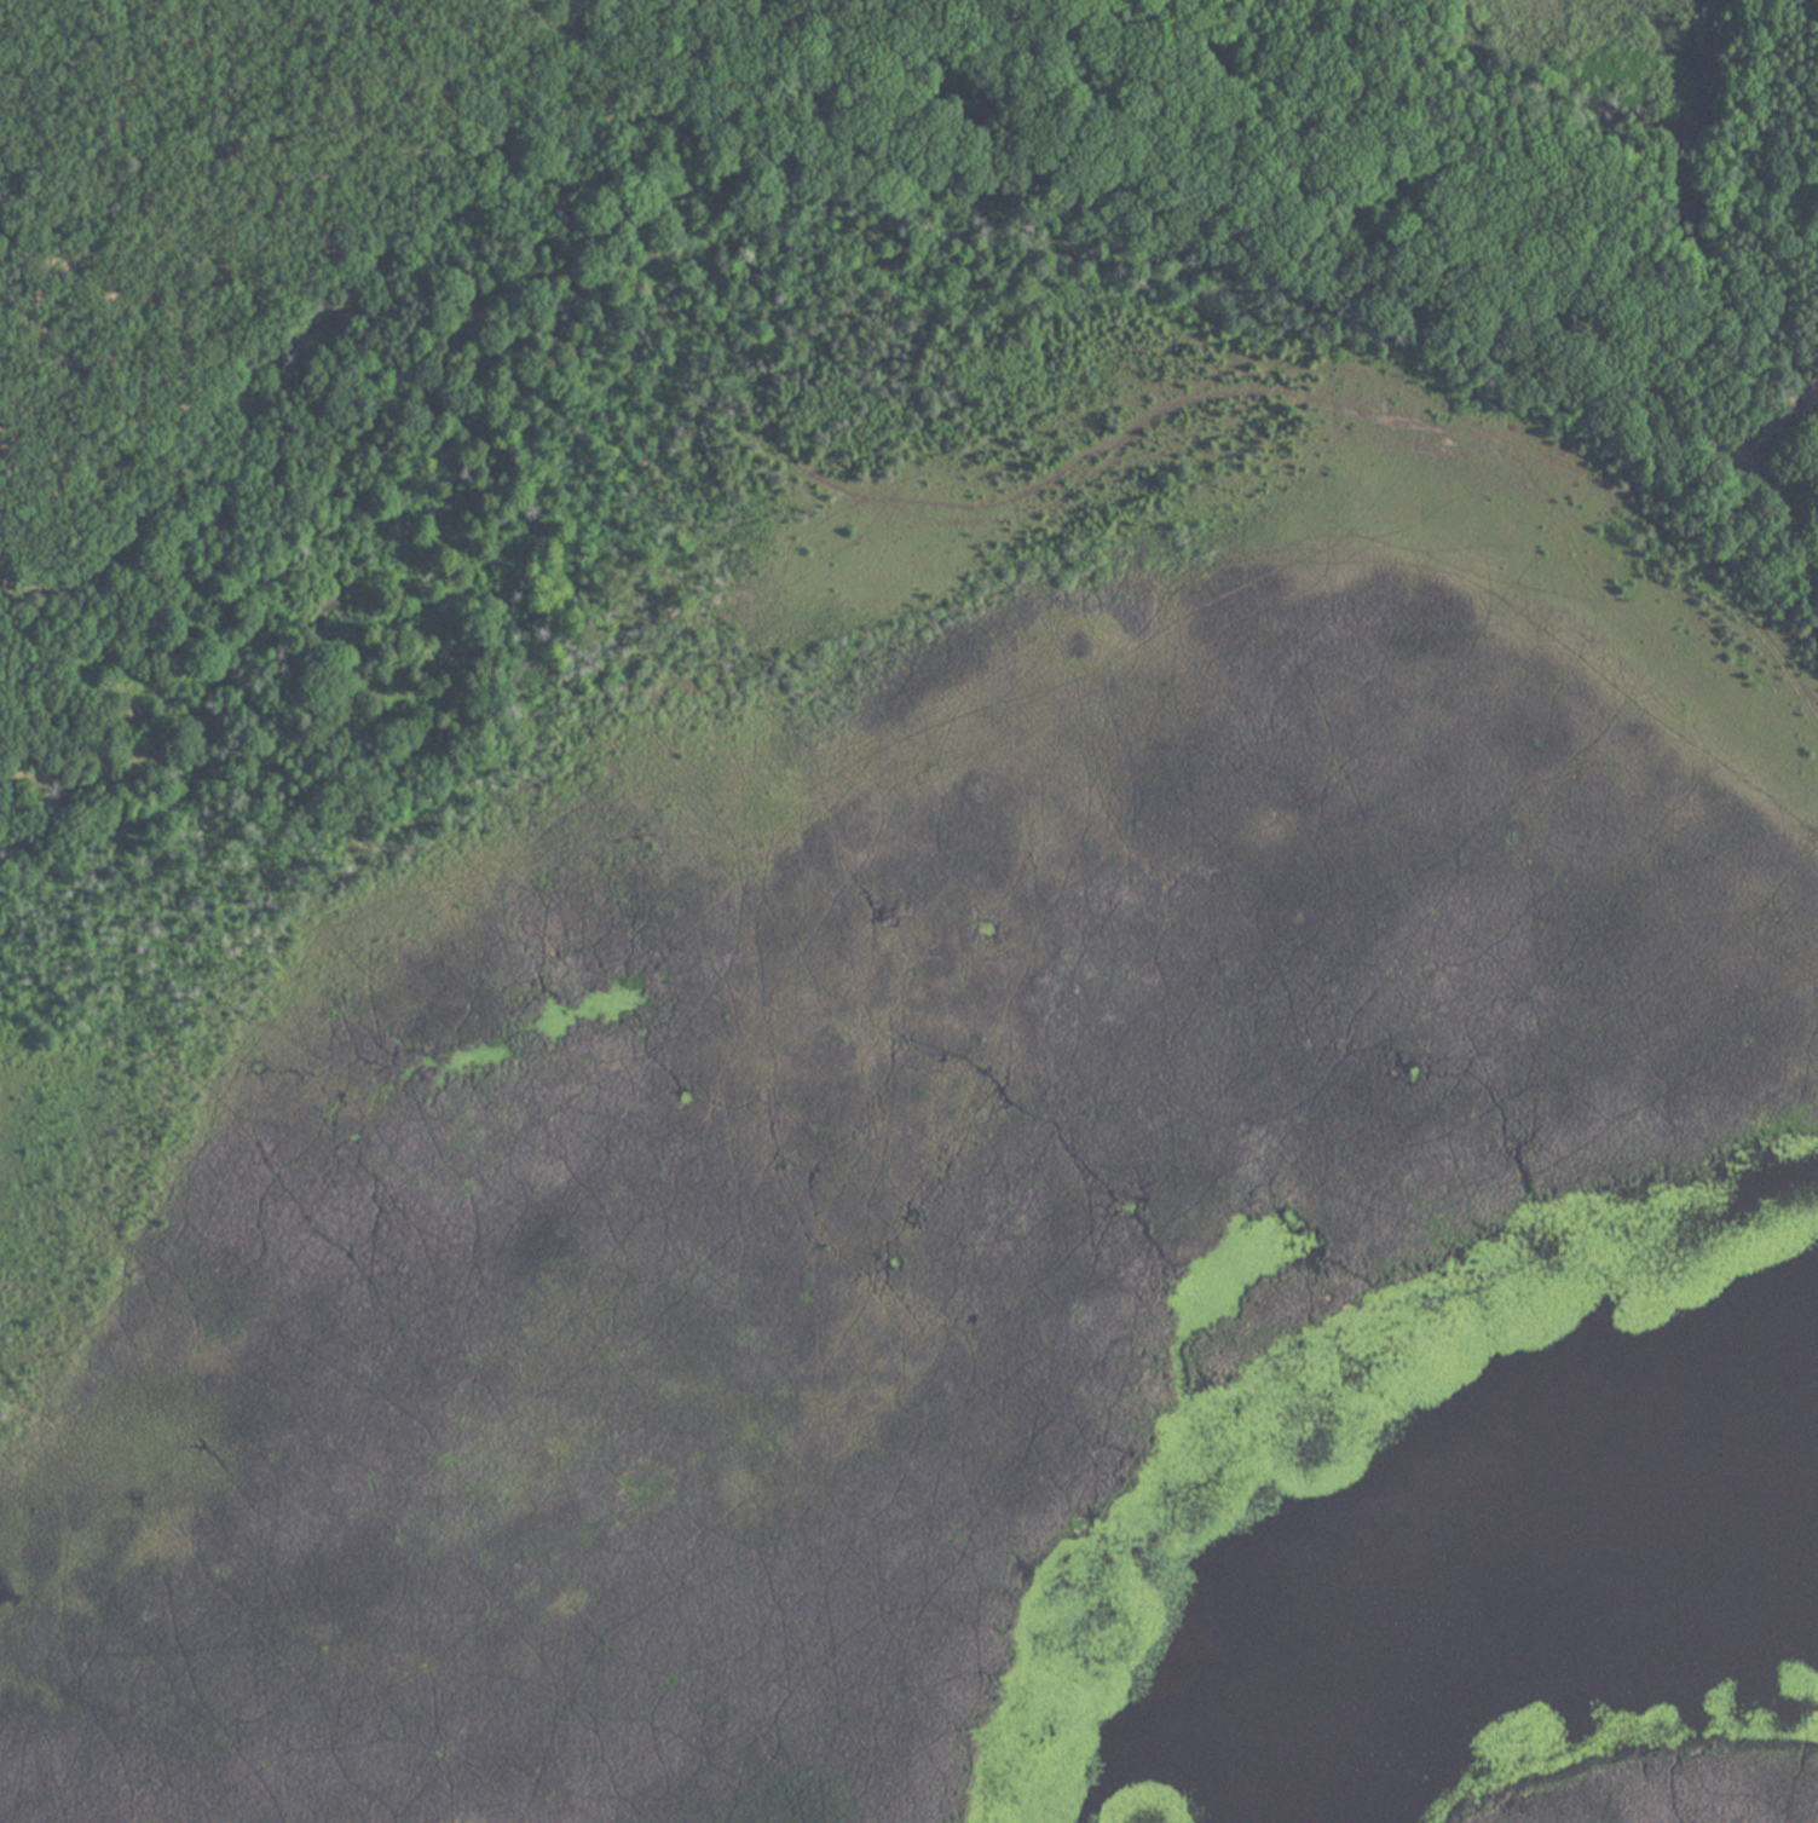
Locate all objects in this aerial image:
quarry: (1614, 44)
road: (1459, 206)

